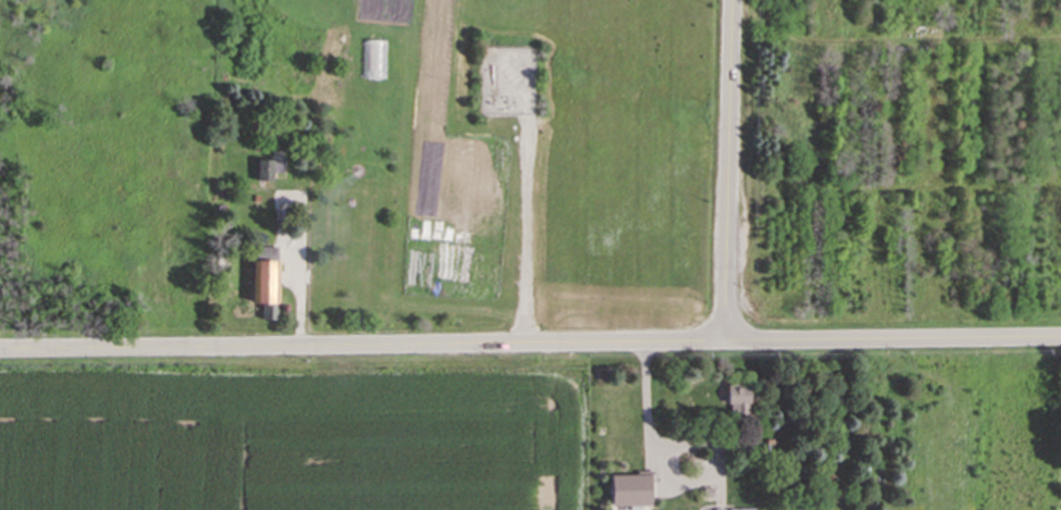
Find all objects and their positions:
crop: (416, 17)
building: (263, 169)
quarry: (111, 170)
road: (728, 171)
road: (527, 238)
building: (264, 284)
road: (530, 345)
building: (737, 396)
road: (644, 418)
crop: (293, 437)
building: (630, 488)
building: (739, 508)

